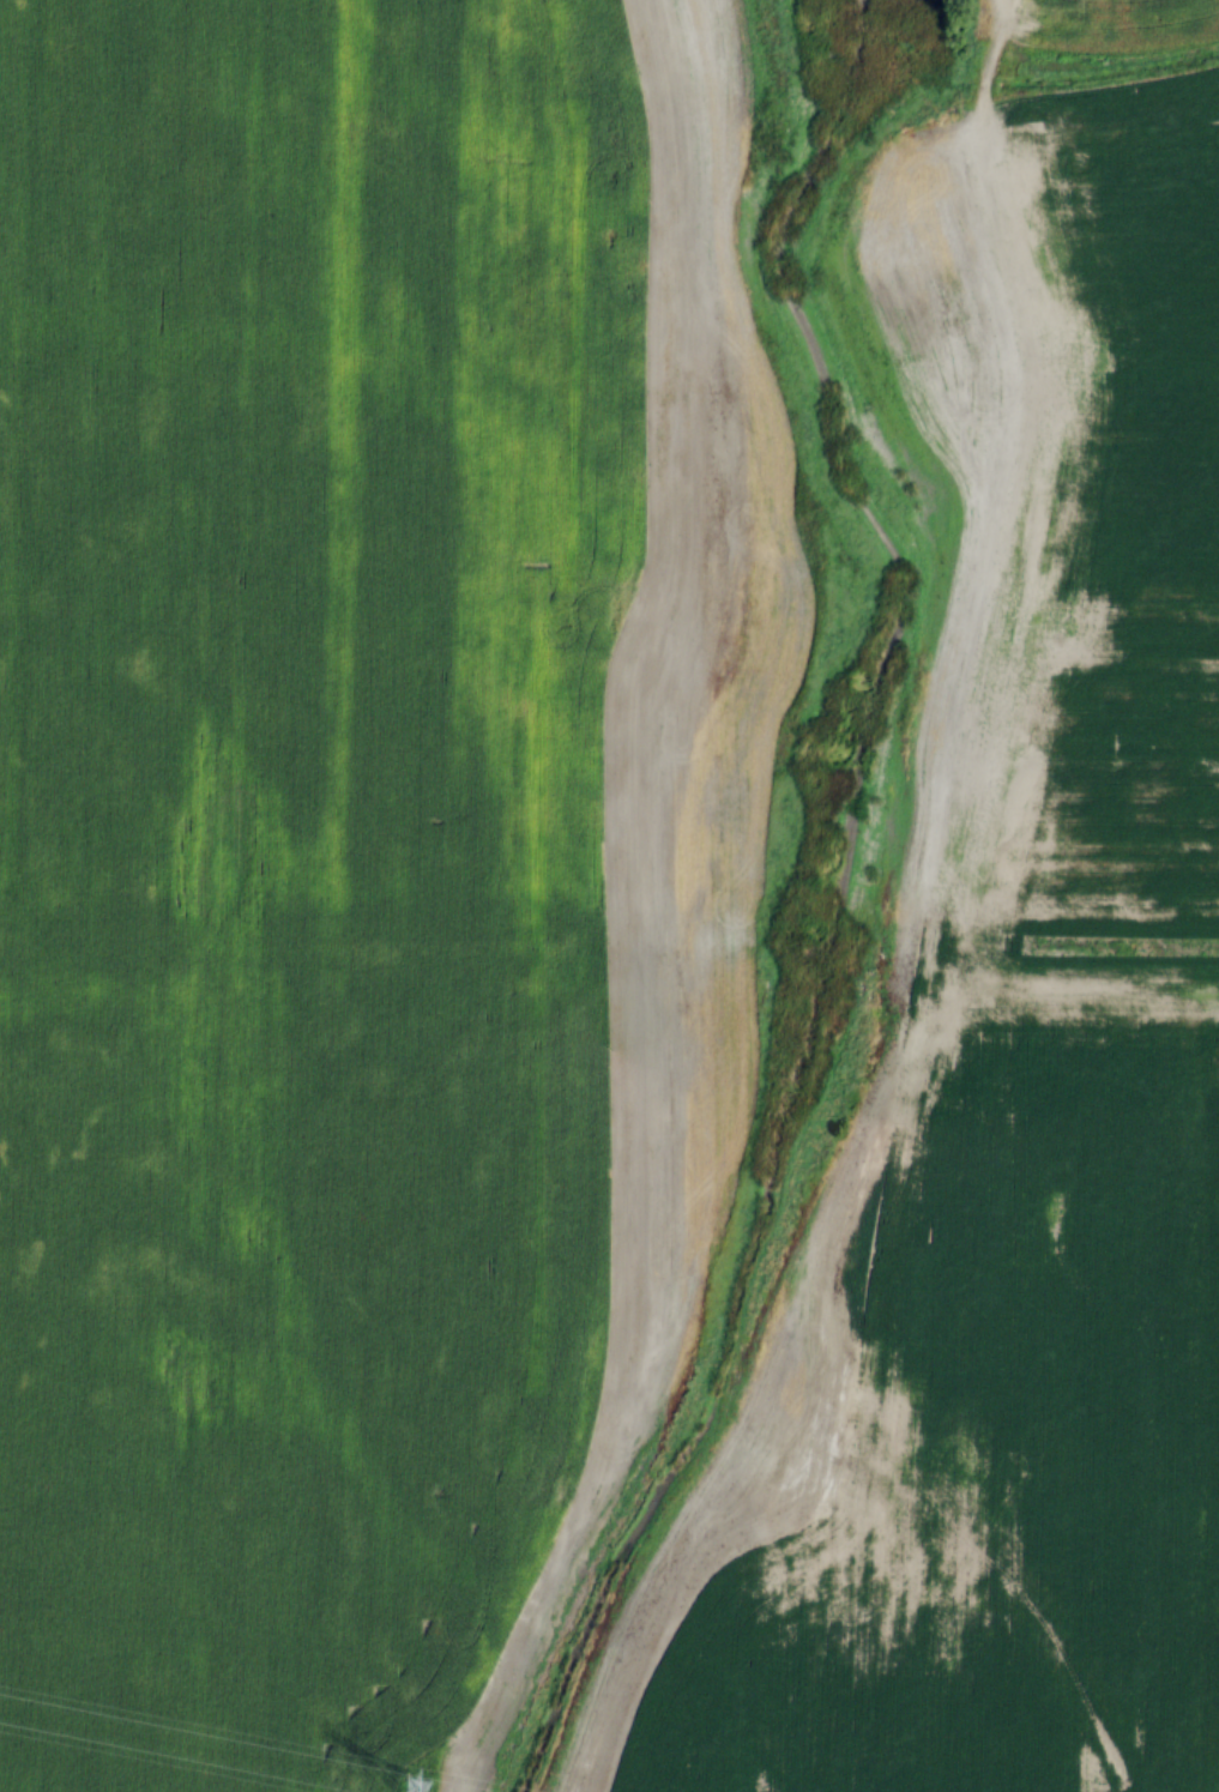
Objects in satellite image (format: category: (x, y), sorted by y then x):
power tower: (408, 1781)

